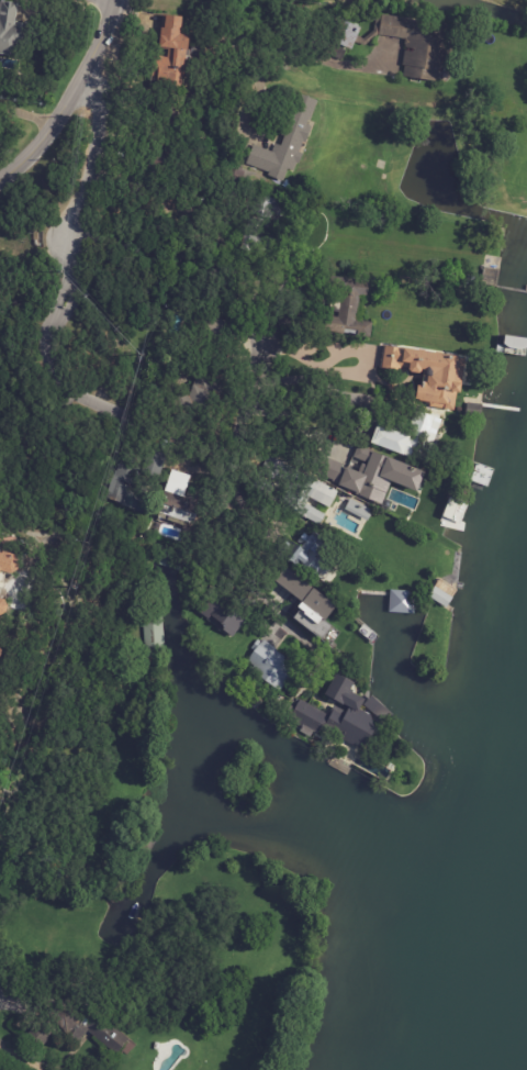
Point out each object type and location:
building: (11, 30)
building: (406, 43)
road: (282, 46)
building: (169, 53)
road: (68, 99)
road: (26, 112)
building: (294, 134)
building: (517, 209)
building: (263, 226)
road: (192, 252)
building: (472, 280)
building: (248, 292)
building: (344, 305)
road: (55, 314)
building: (216, 328)
building: (431, 372)
building: (392, 383)
building: (200, 394)
building: (407, 434)
building: (368, 472)
building: (123, 473)
building: (296, 489)
road: (222, 498)
building: (177, 501)
building: (350, 503)
building: (305, 550)
building: (9, 560)
building: (298, 586)
building: (438, 597)
building: (3, 604)
building: (221, 611)
building: (321, 621)
building: (153, 635)
building: (271, 664)
building: (298, 683)
building: (338, 715)
road: (13, 1002)
building: (76, 1018)

